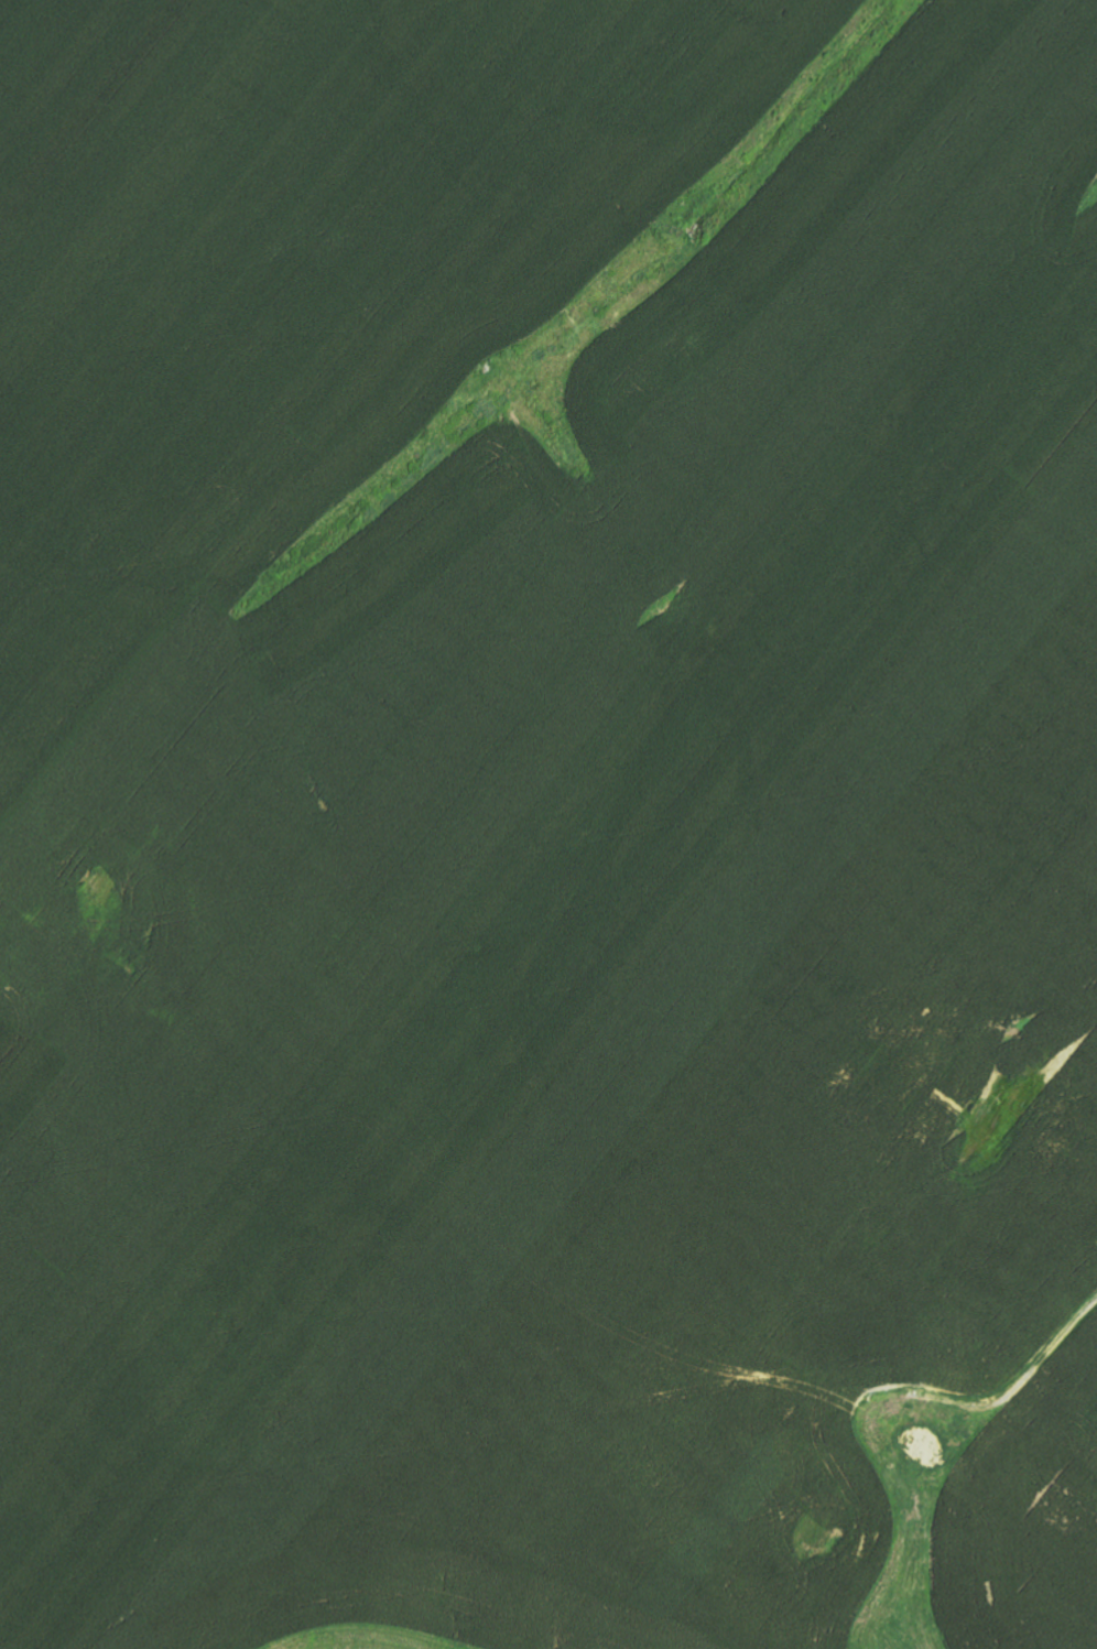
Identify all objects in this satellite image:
road: (898, 1333)

